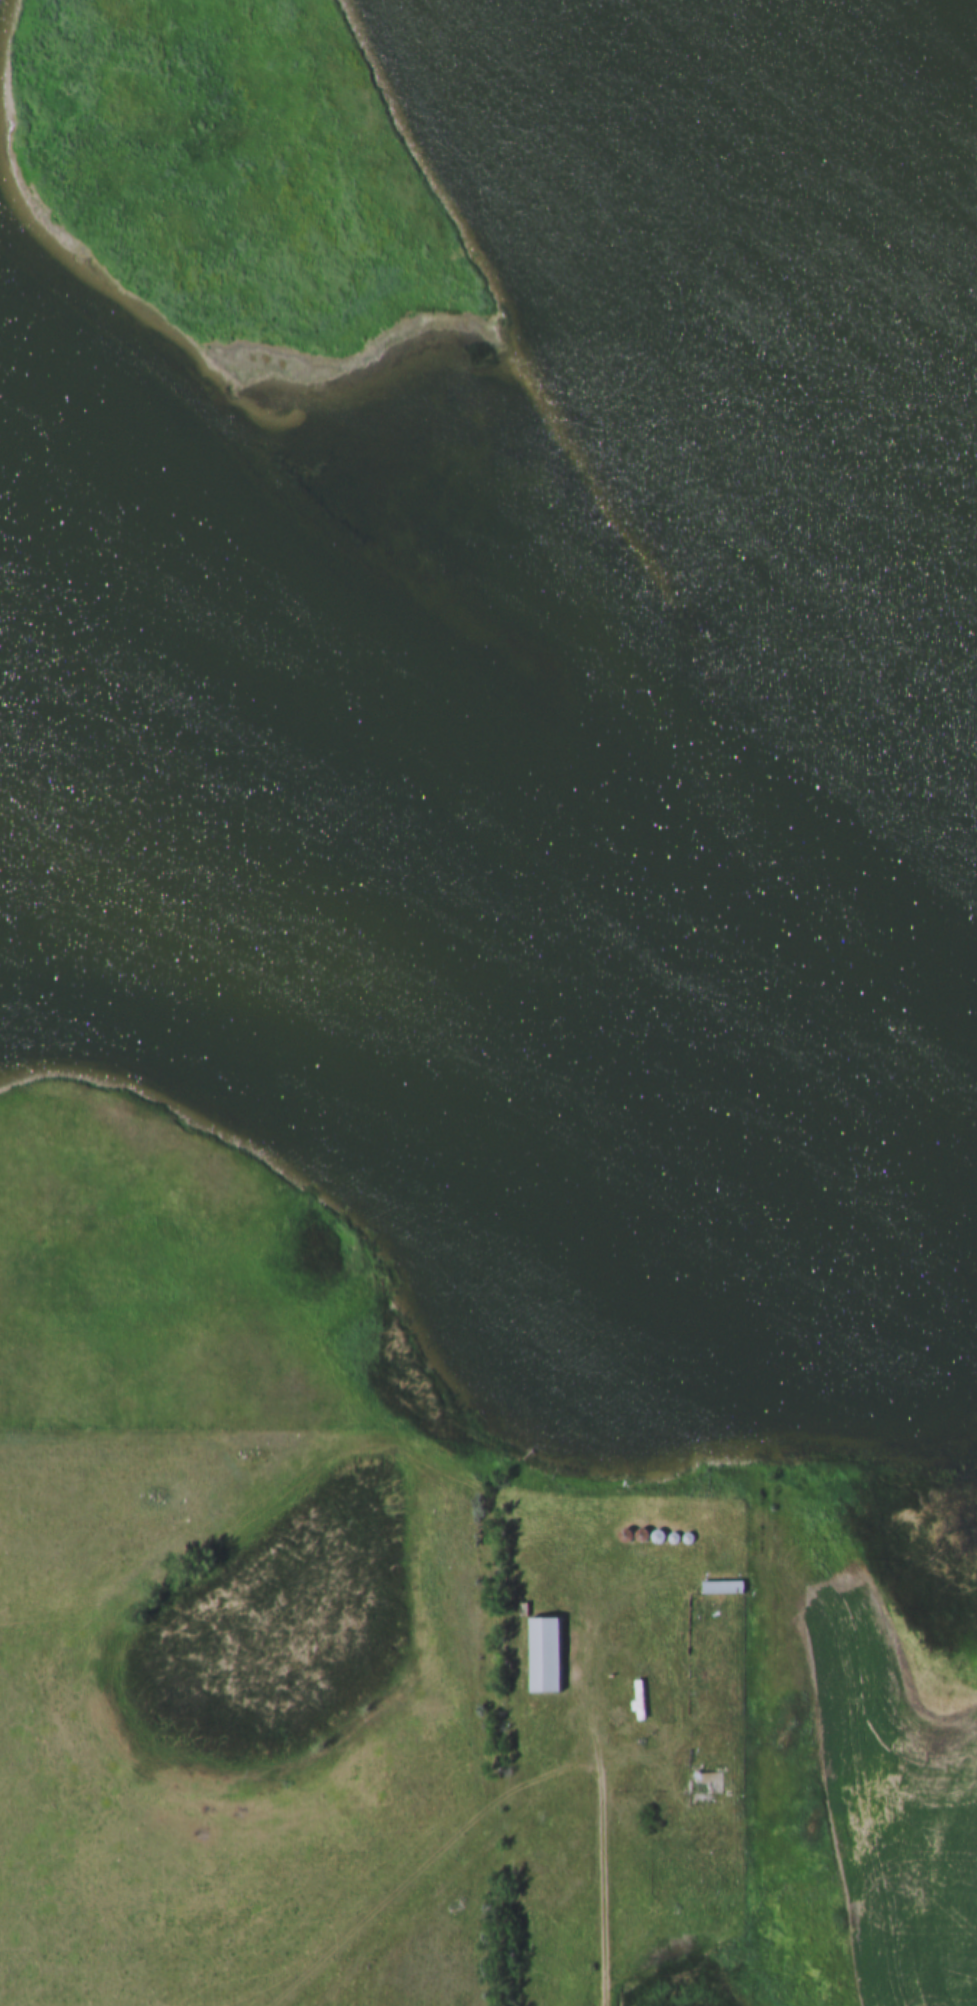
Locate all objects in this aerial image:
building: (723, 1588)
building: (545, 1655)
building: (639, 1700)
building: (700, 1782)
road: (602, 1821)

